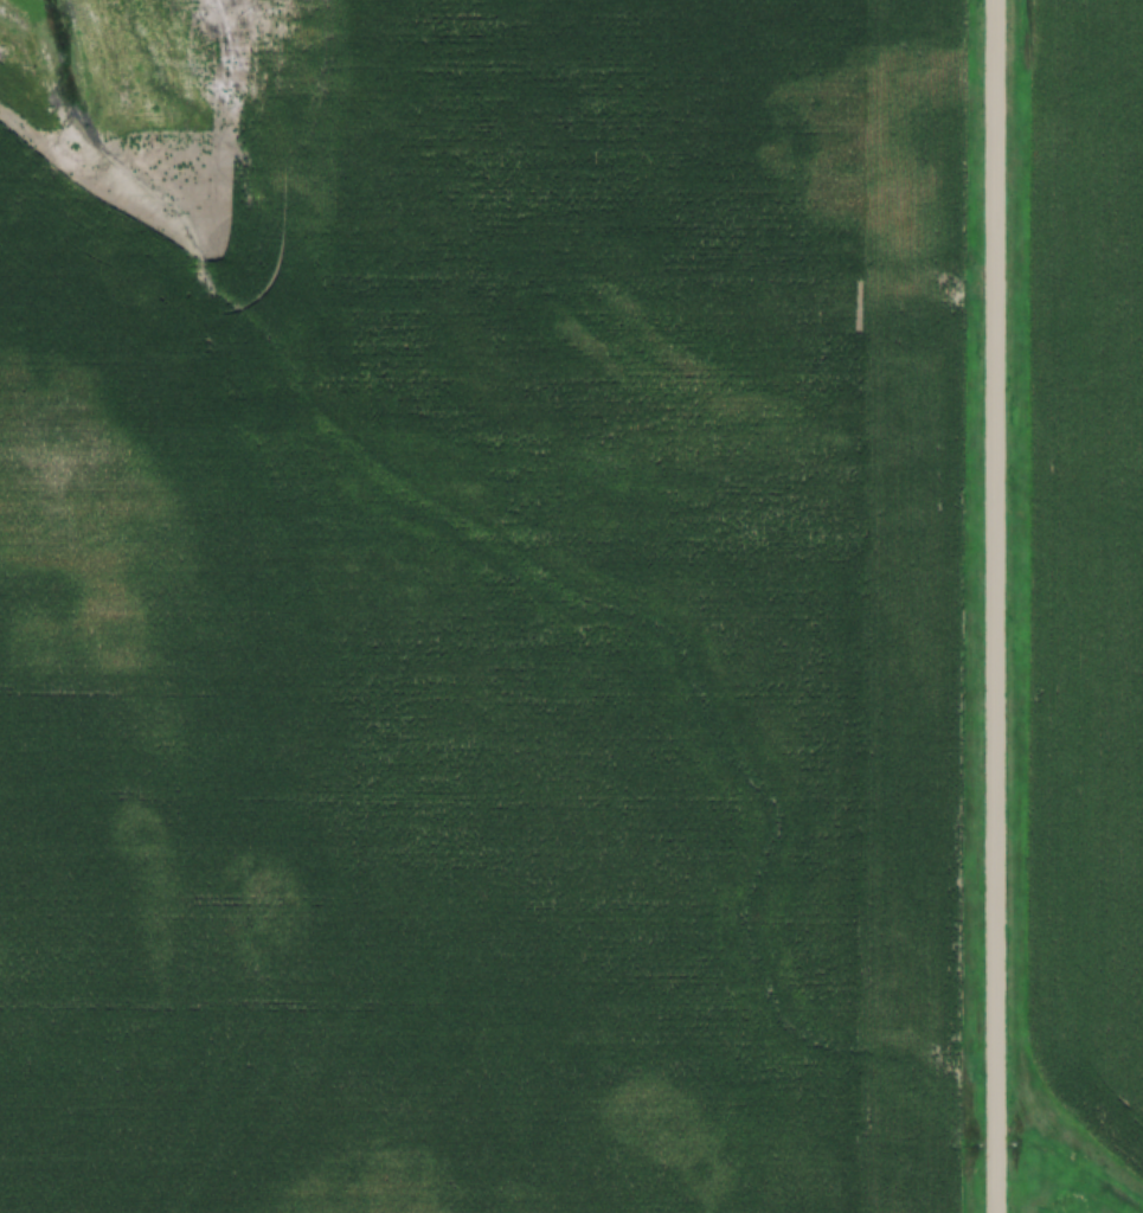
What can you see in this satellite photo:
road: (1000, 606)

